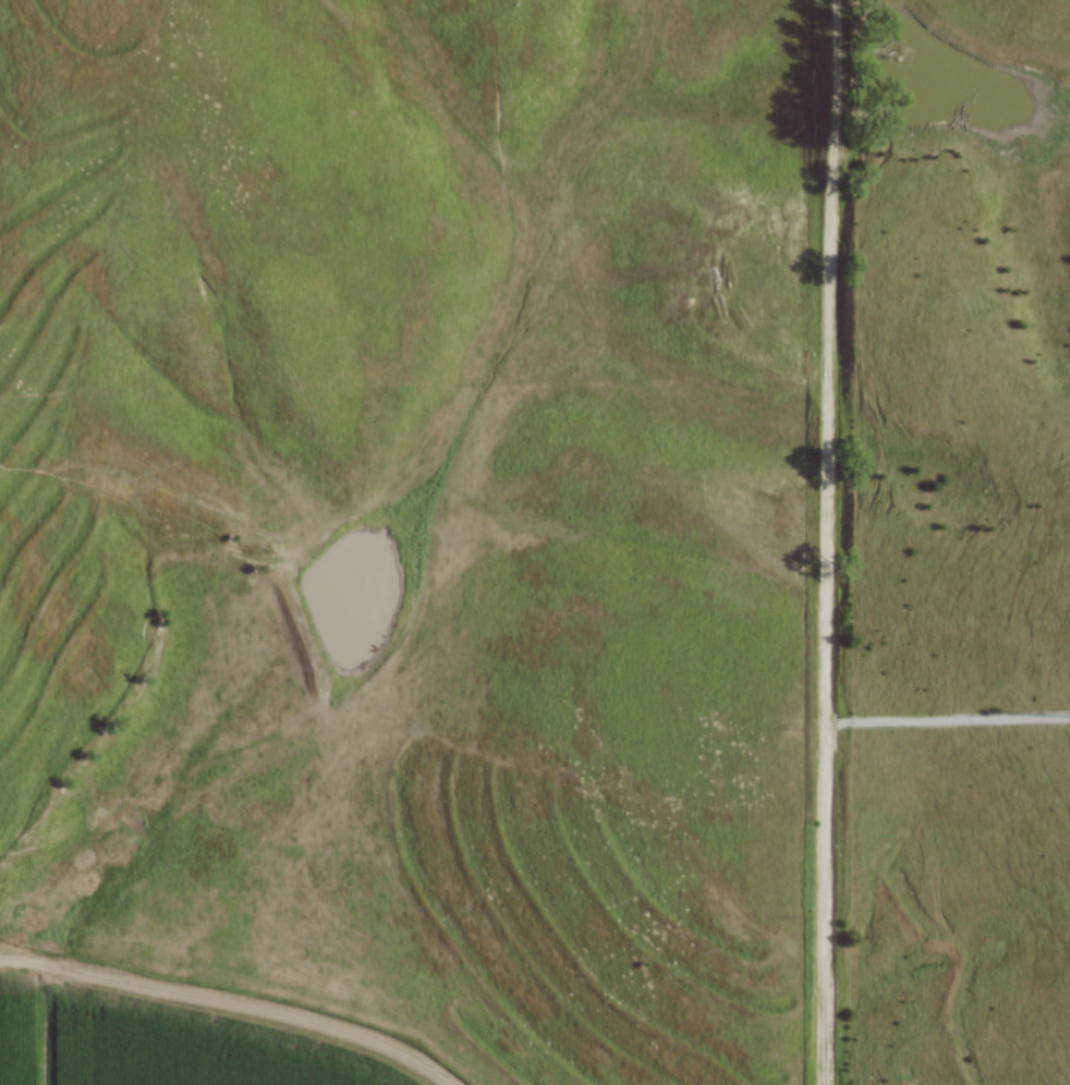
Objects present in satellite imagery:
road: (827, 541)
road: (948, 722)
road: (229, 1004)
crop: (150, 1047)

